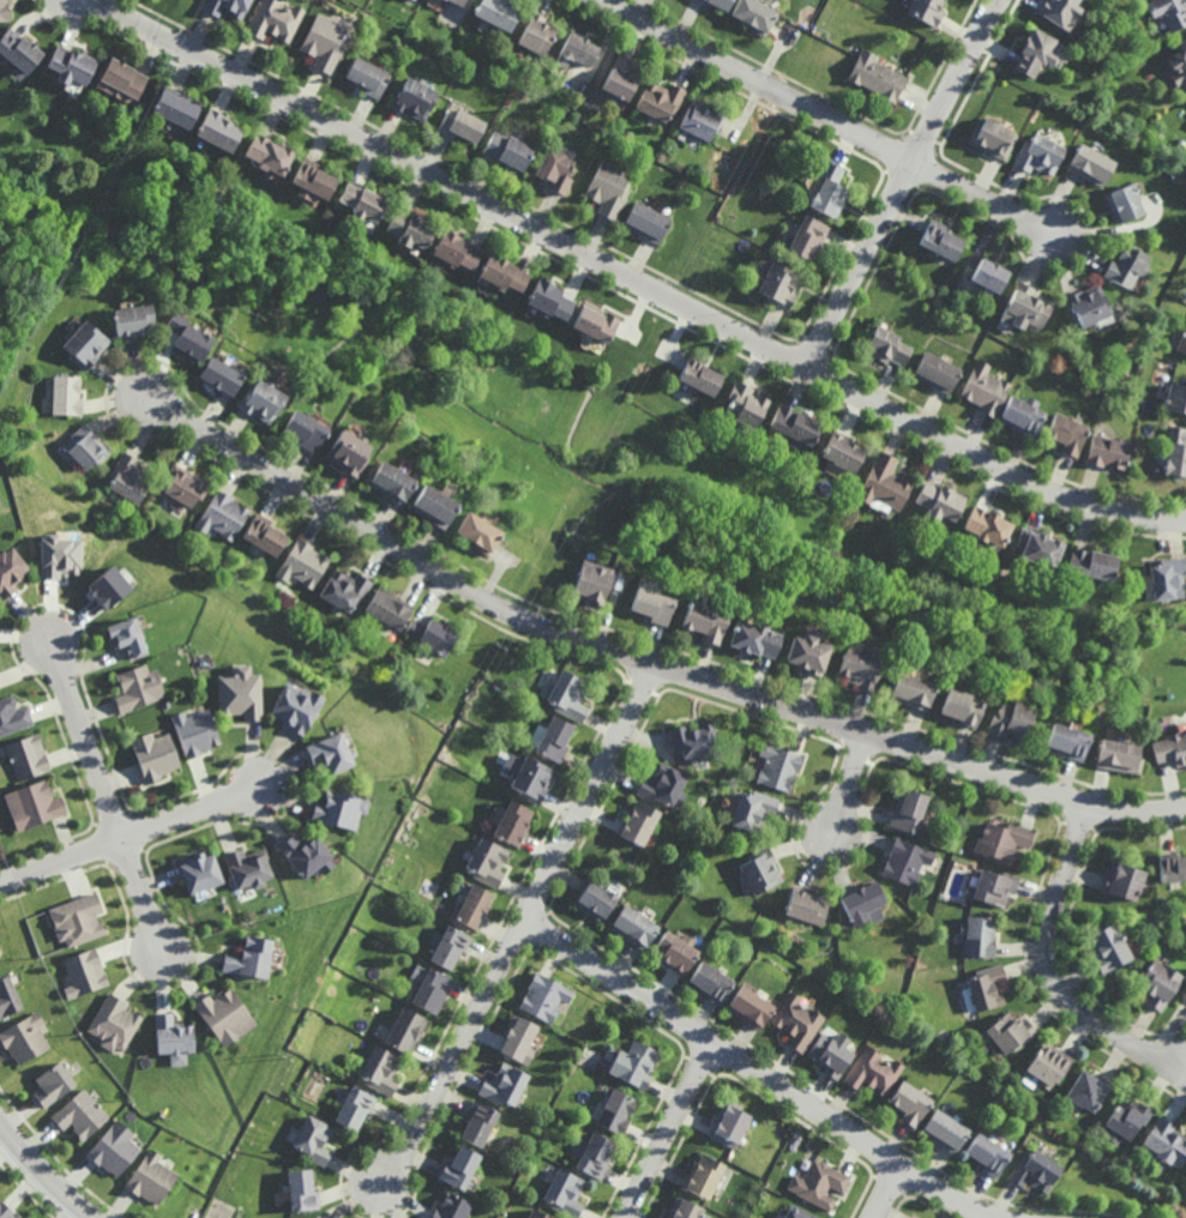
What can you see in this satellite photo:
building: (457, 2)
building: (718, 2)
building: (227, 7)
building: (2, 10)
building: (927, 10)
building: (499, 12)
building: (1061, 12)
building: (1168, 12)
building: (755, 14)
building: (275, 20)
building: (536, 32)
building: (325, 43)
building: (577, 50)
building: (18, 53)
building: (1035, 53)
building: (71, 65)
building: (1179, 65)
building: (369, 76)
building: (878, 76)
building: (620, 77)
building: (122, 82)
building: (416, 98)
building: (661, 100)
building: (176, 108)
road: (827, 116)
building: (702, 119)
building: (462, 123)
building: (216, 132)
building: (1162, 134)
building: (994, 138)
building: (508, 149)
building: (1040, 155)
building: (266, 156)
building: (1091, 164)
building: (555, 169)
building: (312, 181)
road: (903, 182)
building: (609, 187)
building: (830, 191)
building: (362, 203)
building: (1125, 204)
building: (648, 221)
building: (411, 230)
building: (809, 237)
building: (941, 241)
building: (456, 249)
building: (1127, 266)
building: (502, 273)
building: (988, 273)
road: (633, 276)
building: (777, 283)
building: (548, 299)
building: (1086, 304)
building: (1024, 306)
building: (132, 319)
building: (595, 321)
building: (186, 337)
building: (83, 343)
building: (1182, 343)
building: (889, 345)
building: (937, 372)
building: (217, 374)
building: (698, 374)
building: (985, 388)
building: (65, 394)
building: (1175, 398)
building: (259, 399)
building: (743, 404)
building: (1023, 415)
building: (793, 424)
building: (301, 429)
building: (1067, 433)
building: (85, 447)
building: (841, 450)
building: (345, 452)
building: (1108, 452)
building: (1175, 452)
building: (128, 478)
building: (387, 481)
building: (884, 482)
building: (182, 486)
building: (940, 500)
building: (432, 505)
building: (223, 515)
building: (986, 525)
building: (476, 532)
building: (264, 535)
building: (1036, 547)
building: (58, 557)
building: (302, 563)
building: (1089, 563)
building: (8, 571)
building: (1167, 578)
building: (589, 581)
building: (107, 587)
building: (344, 590)
building: (650, 605)
building: (387, 608)
building: (702, 621)
building: (431, 634)
building: (131, 637)
building: (752, 639)
power tower: (493, 644)
building: (807, 653)
road: (642, 662)
building: (857, 669)
building: (137, 687)
building: (905, 691)
building: (566, 694)
building: (236, 697)
building: (294, 707)
building: (956, 707)
building: (12, 716)
building: (1006, 722)
building: (194, 731)
building: (554, 738)
building: (694, 742)
building: (1062, 743)
building: (1169, 749)
building: (333, 750)
building: (26, 756)
building: (155, 756)
building: (1115, 756)
building: (778, 766)
building: (738, 773)
building: (531, 779)
road: (848, 783)
building: (663, 785)
road: (106, 792)
building: (36, 803)
building: (341, 809)
building: (753, 810)
building: (907, 810)
building: (512, 822)
building: (637, 824)
road: (130, 834)
building: (1000, 842)
building: (306, 855)
building: (487, 861)
building: (905, 861)
building: (249, 867)
building: (1170, 868)
building: (759, 872)
building: (198, 873)
building: (1121, 880)
building: (991, 888)
building: (596, 902)
building: (1166, 902)
building: (472, 905)
building: (807, 905)
building: (863, 905)
building: (77, 919)
road: (523, 928)
building: (633, 928)
building: (979, 936)
building: (448, 943)
building: (1107, 949)
building: (673, 954)
building: (248, 958)
road: (1052, 970)
building: (84, 971)
building: (710, 983)
building: (1157, 984)
building: (396, 987)
building: (429, 987)
building: (987, 988)
building: (1185, 994)
building: (544, 996)
building: (8, 999)
building: (748, 1007)
building: (224, 1014)
building: (797, 1021)
building: (114, 1023)
building: (407, 1030)
building: (1010, 1031)
building: (173, 1037)
building: (519, 1037)
building: (25, 1038)
building: (832, 1051)
power tower: (282, 1055)
building: (634, 1062)
building: (1047, 1066)
building: (874, 1069)
building: (383, 1073)
road: (760, 1074)
building: (54, 1084)
building: (505, 1084)
building: (1089, 1090)
building: (911, 1101)
building: (357, 1108)
building: (616, 1109)
building: (83, 1115)
building: (1126, 1118)
building: (480, 1122)
building: (730, 1123)
building: (946, 1129)
road: (672, 1132)
building: (315, 1141)
building: (1166, 1142)
building: (115, 1148)
building: (988, 1153)
building: (594, 1154)
building: (460, 1166)
building: (1037, 1170)
road: (44, 1172)
building: (704, 1175)
building: (152, 1178)
building: (820, 1183)
building: (303, 1192)
building: (565, 1192)
road: (887, 1192)
building: (454, 1207)
building: (685, 1208)
building: (6, 1211)
building: (538, 1213)
building: (799, 1213)
building: (315, 1217)

